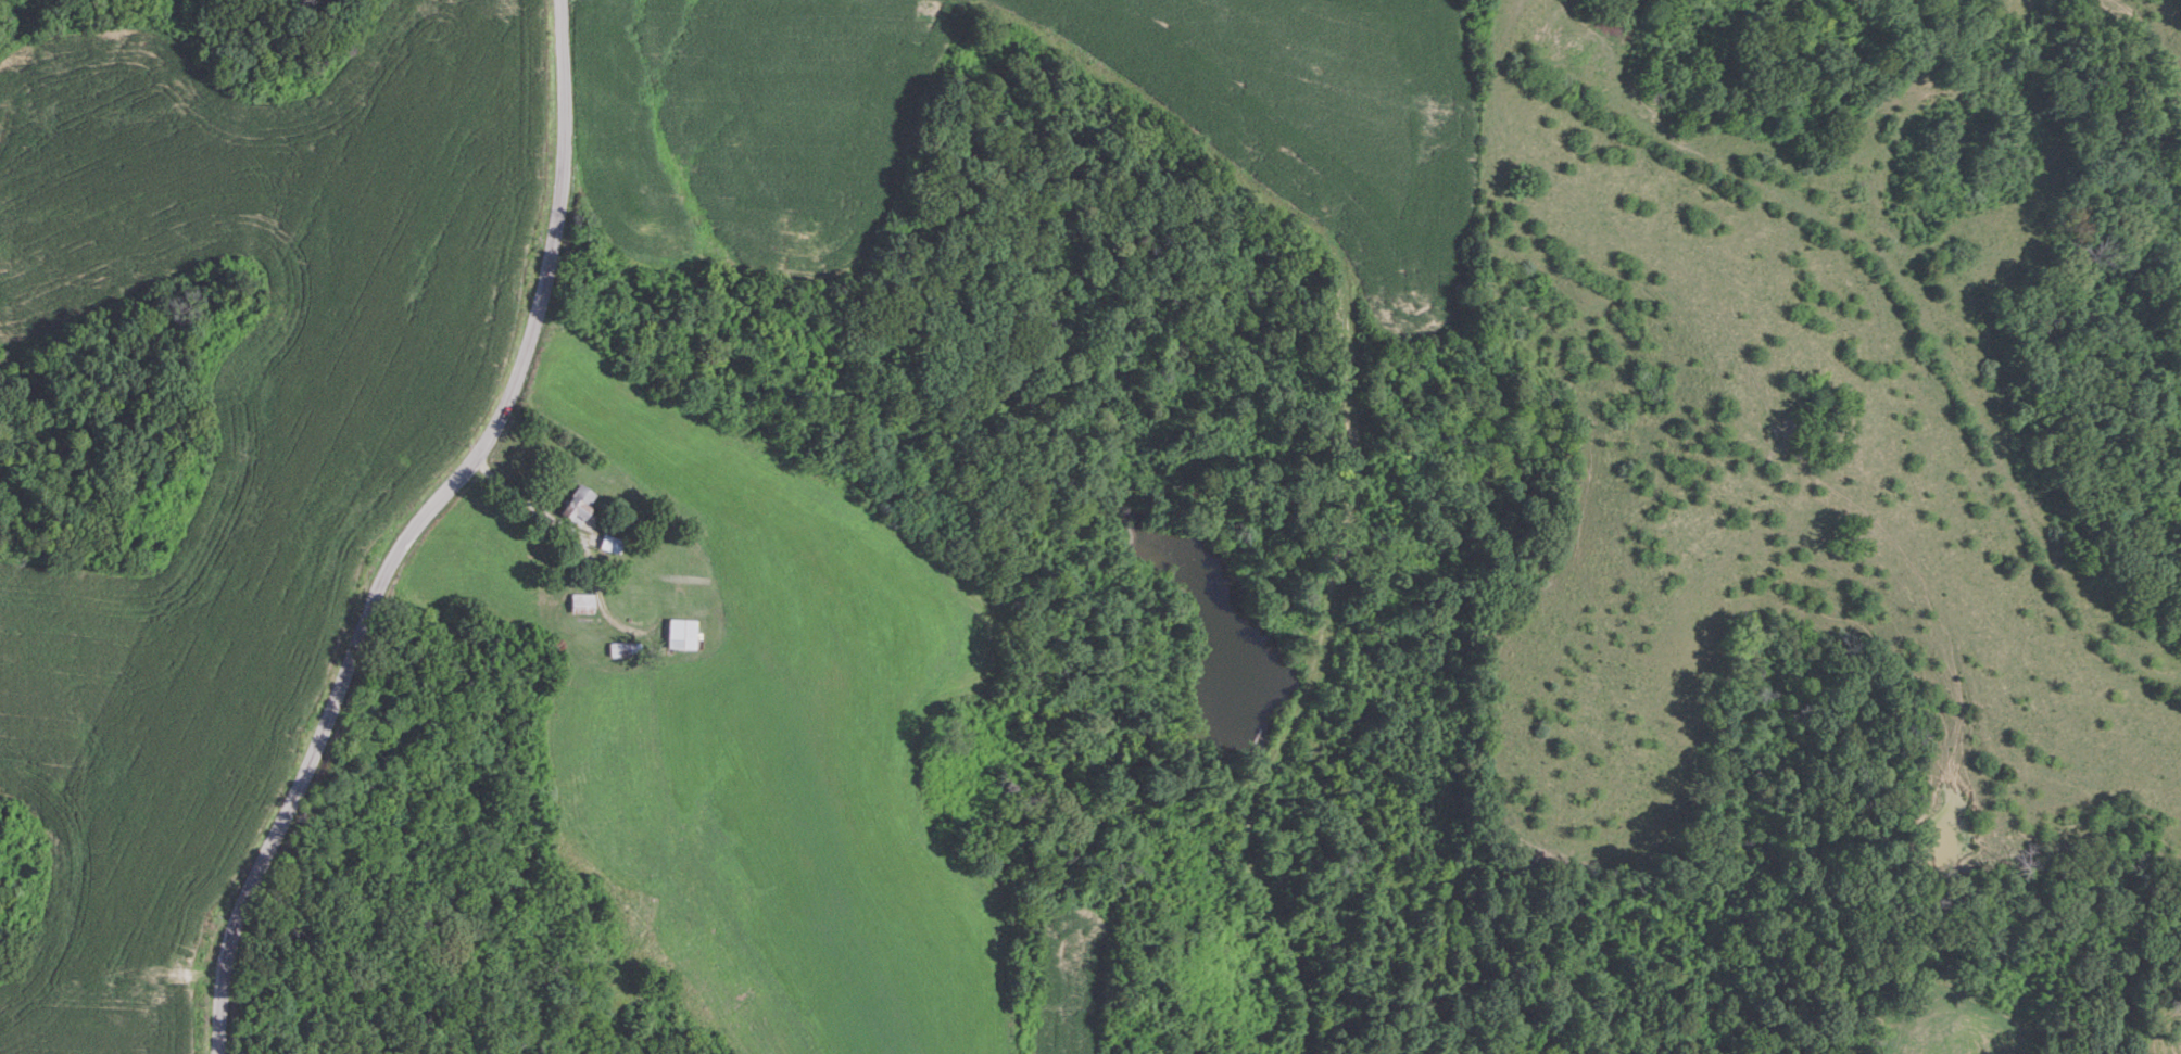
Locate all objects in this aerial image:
building: (1060, 312)
crop: (240, 423)
building: (580, 507)
road: (409, 526)
building: (609, 543)
building: (581, 602)
building: (680, 633)
building: (623, 649)
crop: (89, 1025)

